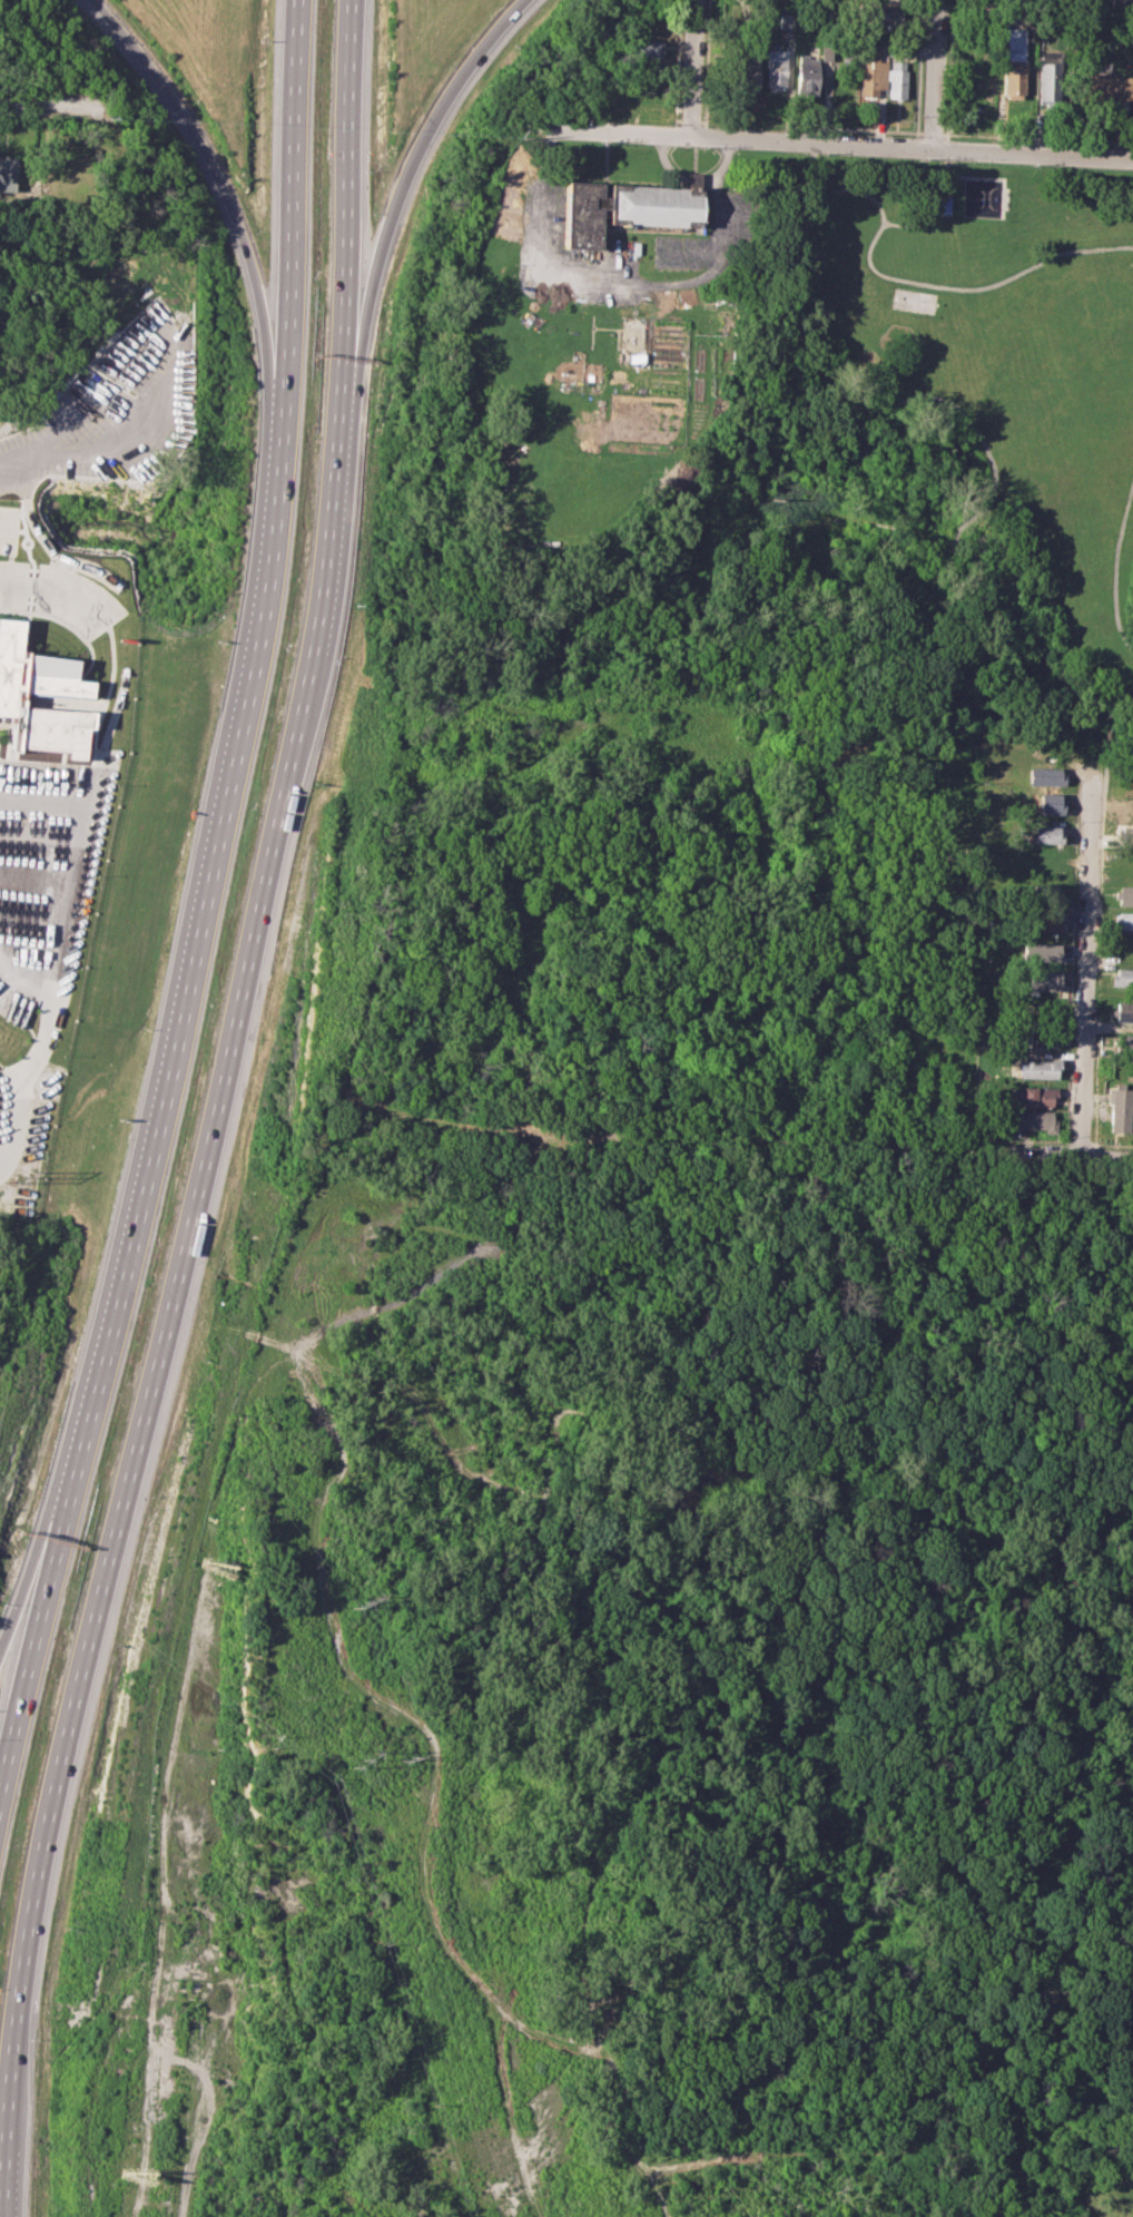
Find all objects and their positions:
building: (1121, 3)
building: (883, 14)
building: (785, 20)
building: (647, 48)
building: (827, 52)
road: (691, 67)
building: (775, 69)
building: (747, 71)
building: (871, 72)
building: (806, 73)
road: (933, 73)
building: (1048, 77)
building: (1013, 78)
building: (897, 79)
building: (1107, 88)
road: (49, 100)
road: (841, 143)
building: (77, 168)
building: (8, 173)
road: (993, 177)
road: (404, 185)
road: (224, 190)
road: (867, 193)
road: (344, 199)
road: (293, 207)
building: (627, 207)
road: (642, 285)
road: (979, 288)
park: (915, 300)
road: (118, 440)
park: (942, 460)
road: (975, 562)
road: (1116, 567)
road: (53, 590)
building: (37, 671)
building: (41, 699)
road: (56, 753)
building: (1047, 776)
building: (1053, 803)
building: (1050, 834)
building: (1126, 895)
building: (1124, 920)
building: (1045, 923)
road: (196, 941)
building: (1042, 952)
road: (1088, 963)
building: (1124, 975)
building: (1045, 979)
building: (1124, 1011)
building: (1041, 1039)
building: (1123, 1041)
road: (671, 1051)
building: (1038, 1068)
building: (1034, 1097)
building: (1120, 1108)
building: (1033, 1119)
road: (834, 1149)
power tower: (22, 1176)
road: (166, 1306)
road: (36, 1559)
power tower: (363, 1602)
road: (35, 1629)
power tower: (357, 1757)
power tower: (406, 1758)
road: (427, 1806)
road: (502, 2101)
road: (206, 2119)

